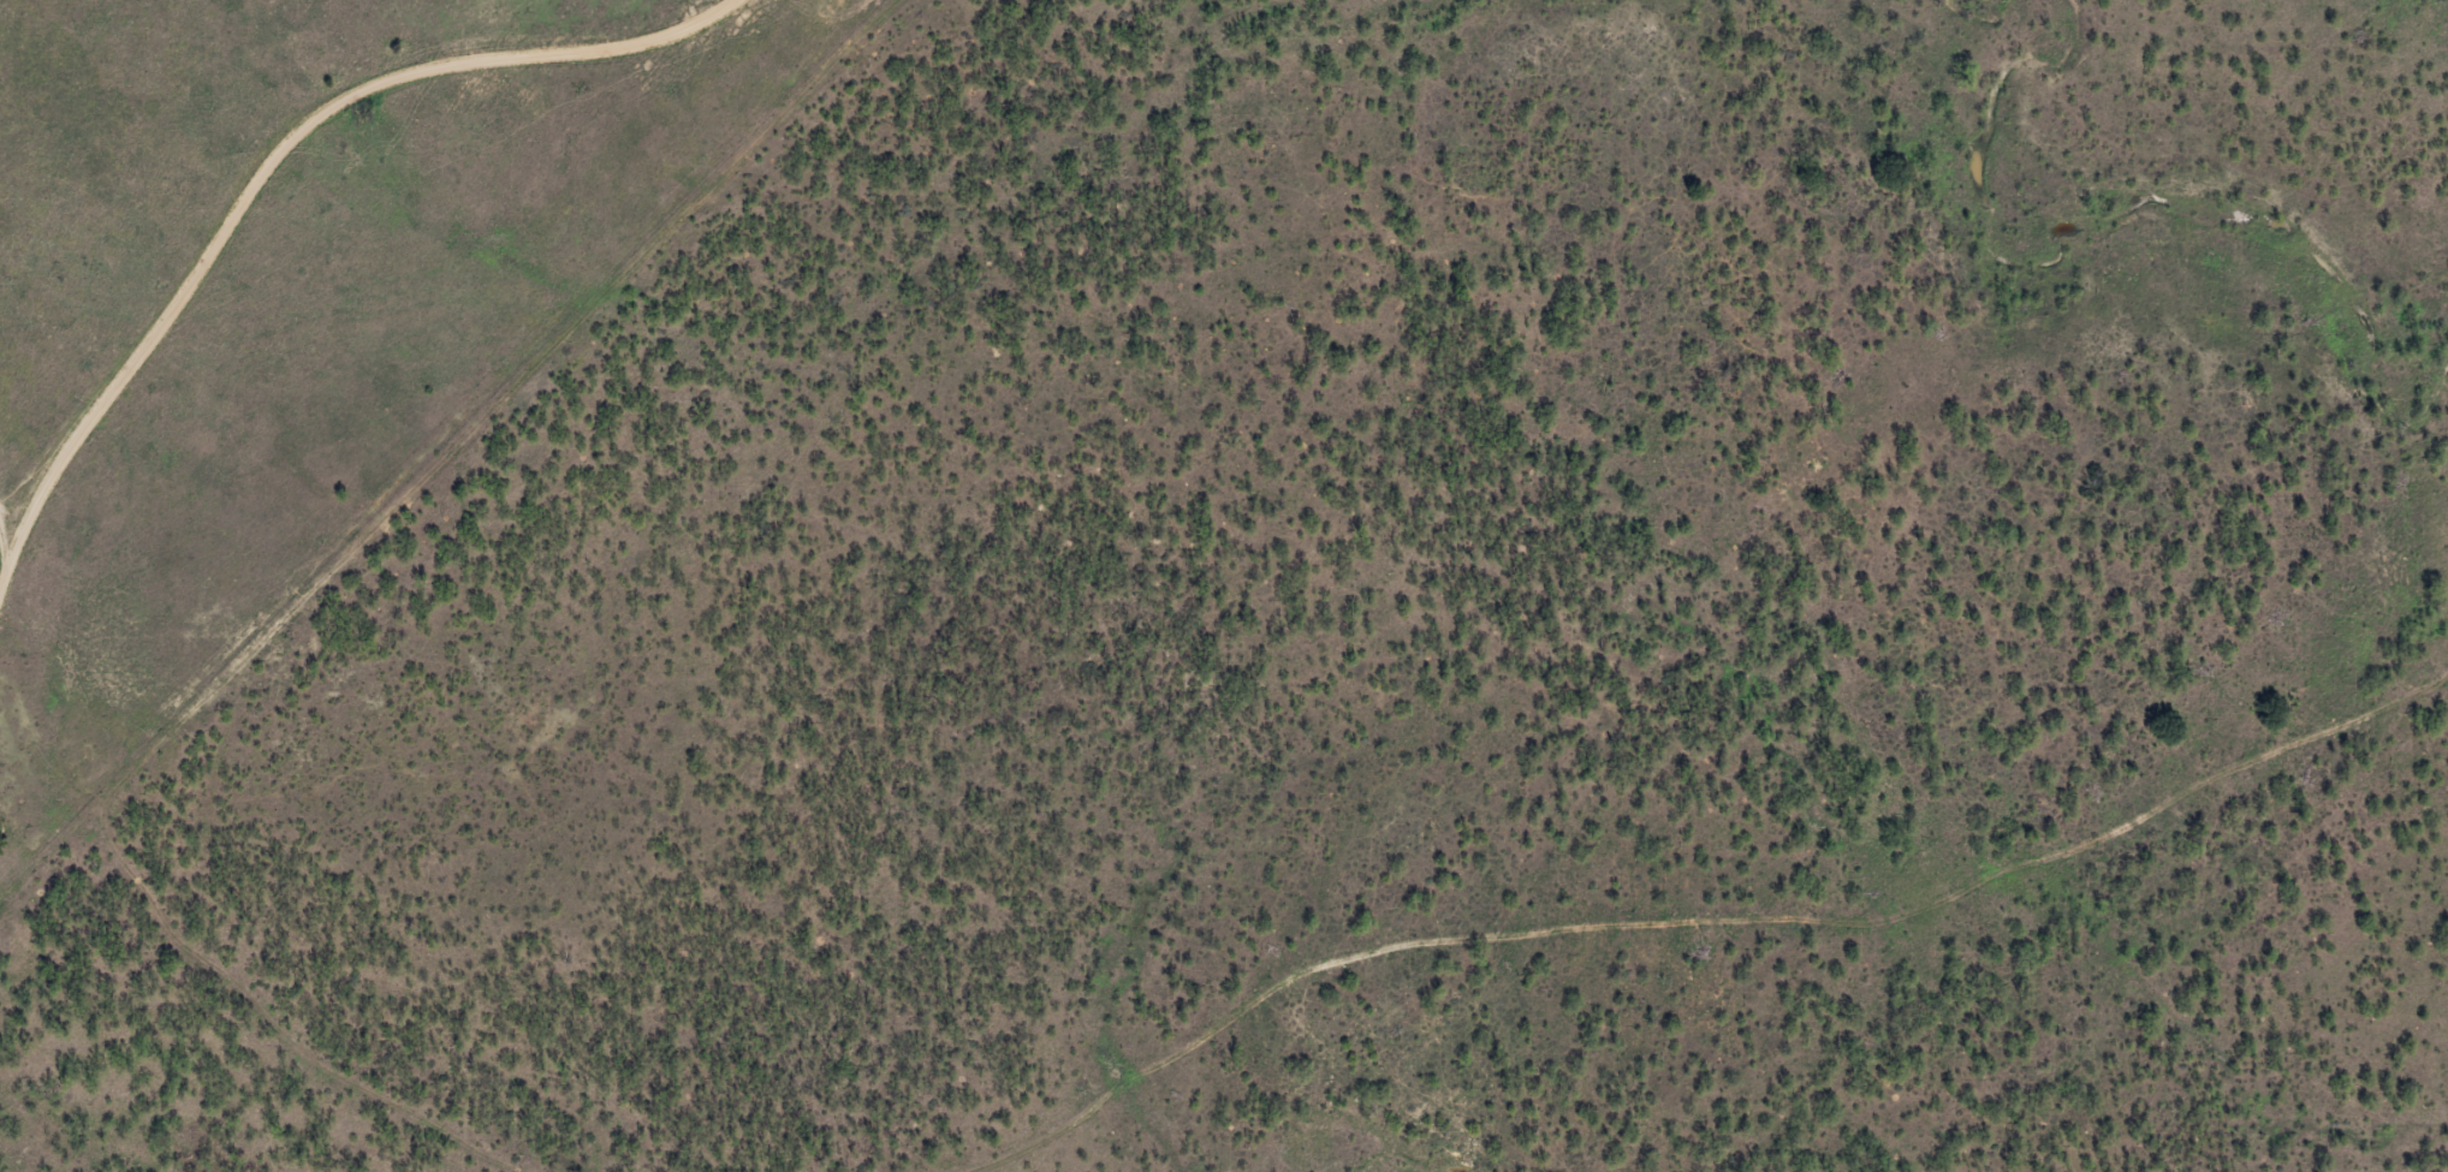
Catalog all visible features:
road: (256, 218)
road: (10, 495)

